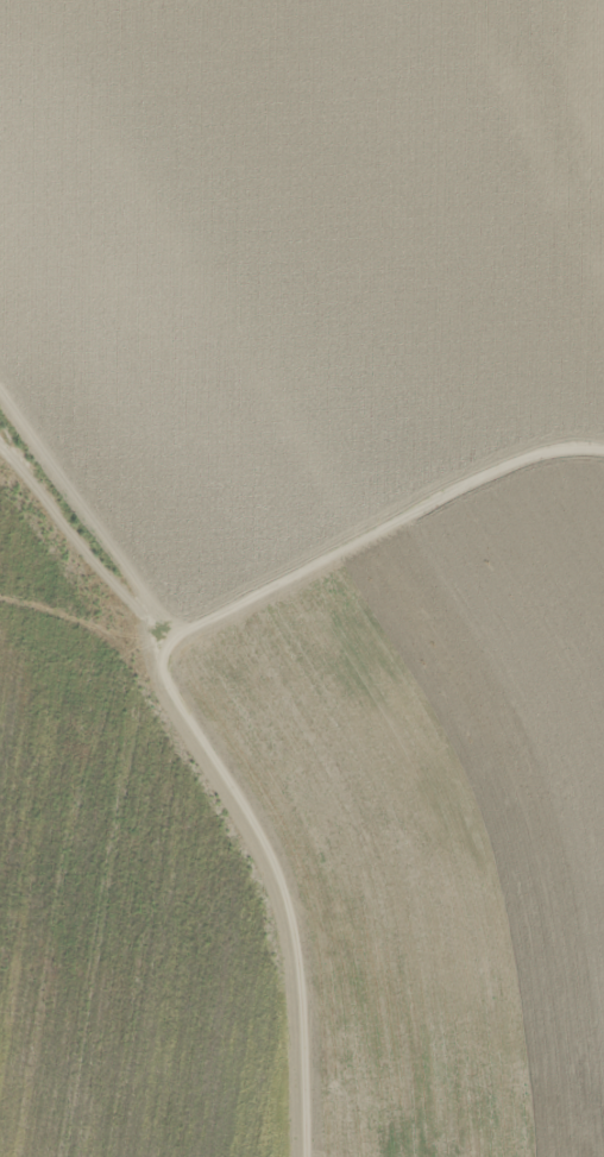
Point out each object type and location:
road: (264, 585)

